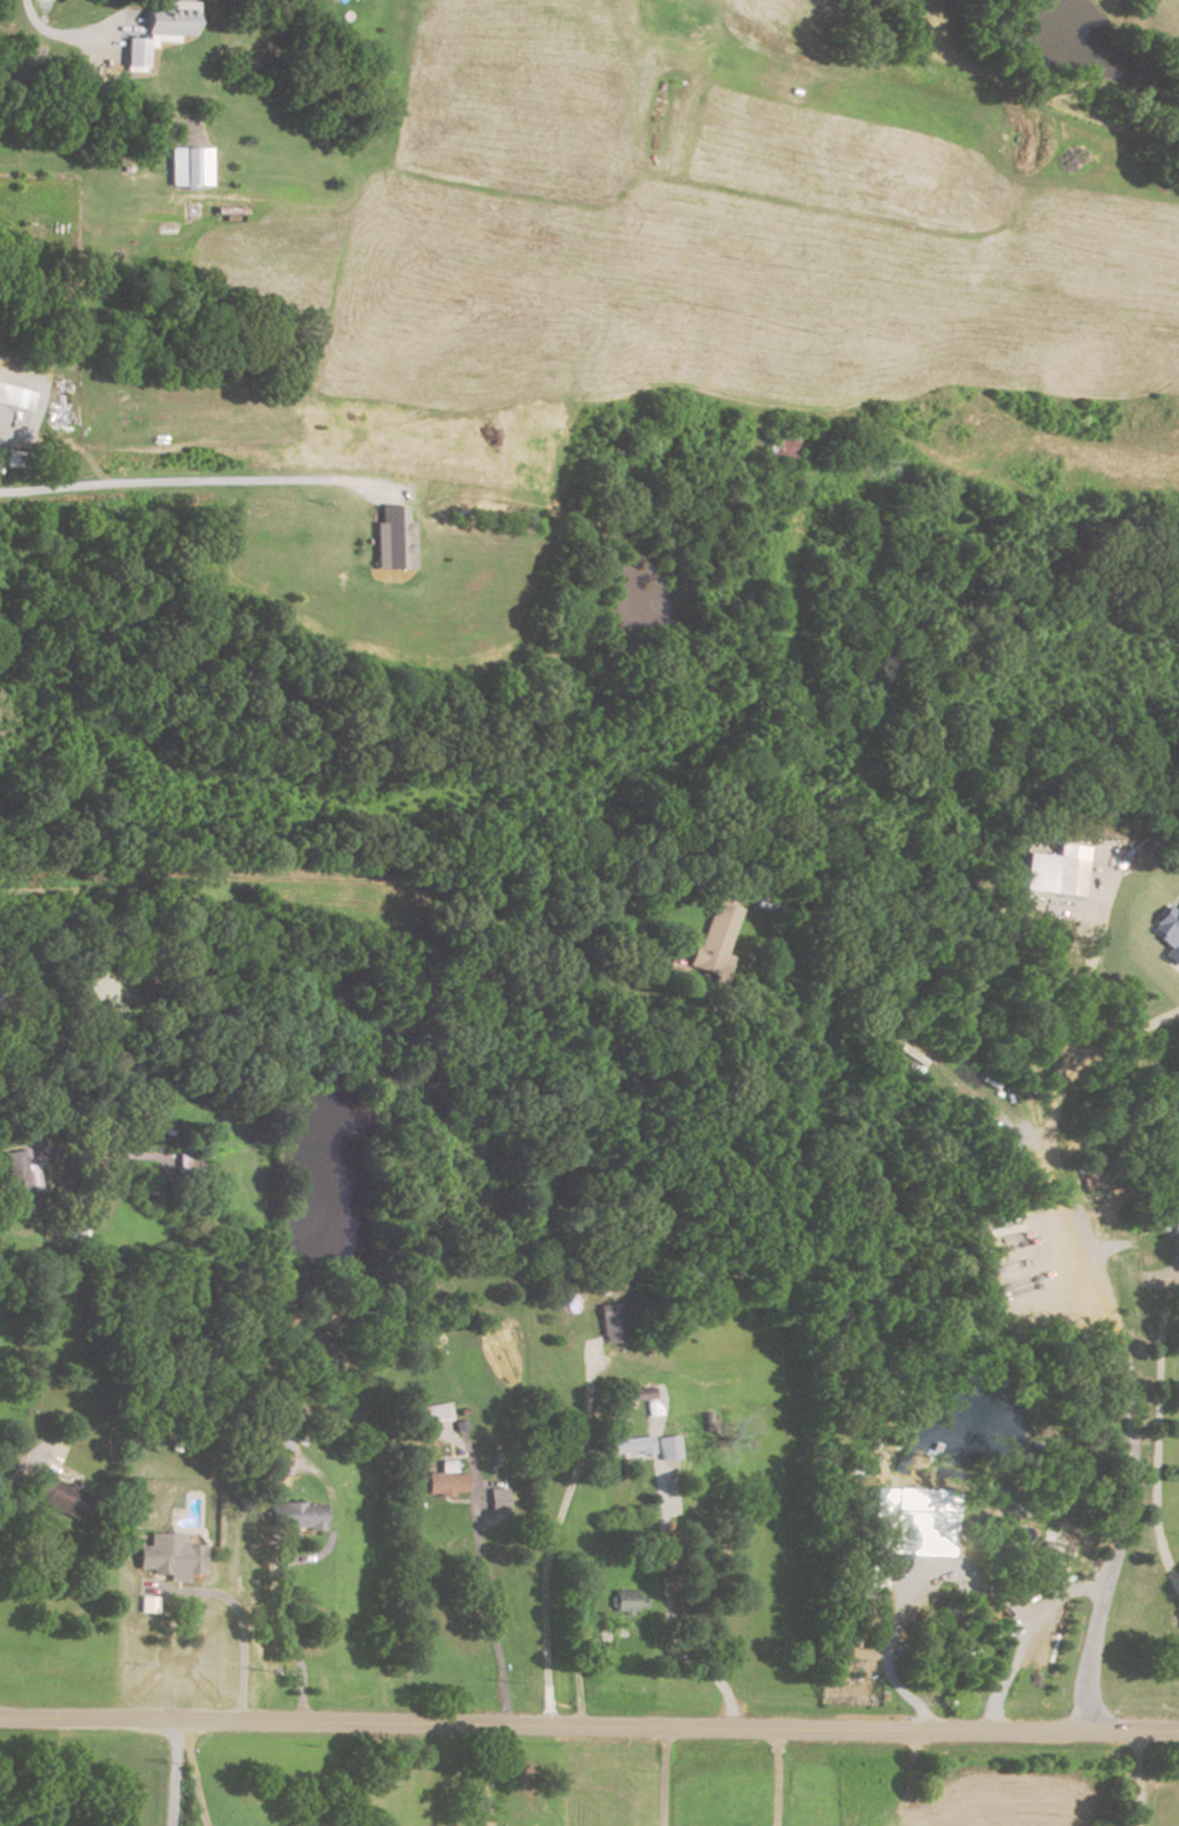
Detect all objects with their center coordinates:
building: (170, 19)
road: (60, 37)
building: (134, 55)
building: (185, 139)
building: (189, 165)
building: (13, 399)
road: (5, 425)
building: (784, 447)
road: (199, 483)
building: (390, 542)
road: (350, 865)
building: (1066, 876)
building: (766, 900)
building: (1160, 928)
building: (713, 944)
building: (2, 994)
road: (1118, 1038)
road: (77, 1155)
building: (185, 1169)
building: (20, 1173)
building: (1174, 1223)
road: (1102, 1299)
building: (611, 1325)
building: (636, 1396)
building: (434, 1415)
building: (460, 1427)
road: (1156, 1432)
building: (666, 1446)
building: (630, 1448)
building: (271, 1456)
road: (16, 1470)
building: (447, 1485)
building: (60, 1496)
building: (501, 1501)
building: (916, 1514)
building: (294, 1516)
road: (553, 1534)
building: (595, 1549)
building: (169, 1556)
road: (953, 1567)
road: (483, 1570)
road: (1061, 1595)
building: (626, 1603)
road: (667, 1605)
road: (238, 1617)
road: (287, 1636)
road: (577, 1664)
road: (589, 1726)
road: (172, 1772)
road: (193, 1773)
road: (485, 1775)
road: (661, 1775)
road: (773, 1778)
road: (1137, 1778)

